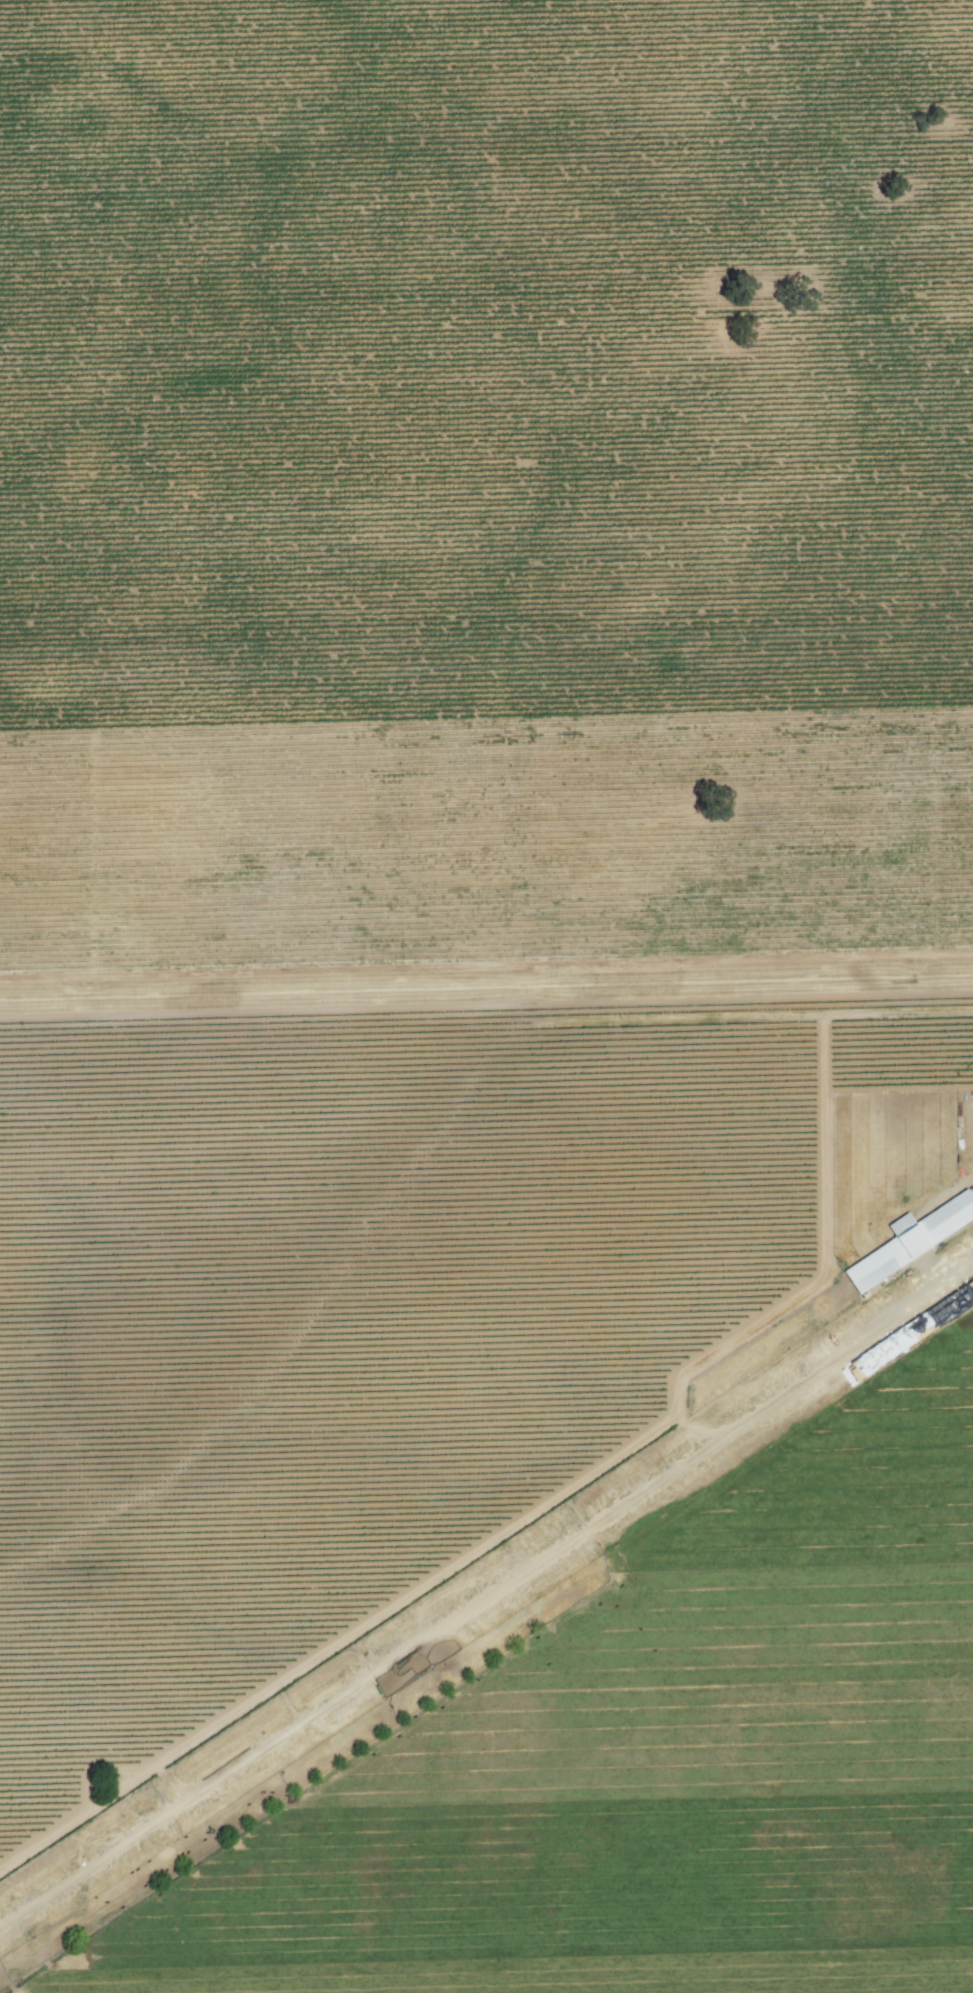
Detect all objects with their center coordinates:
building: (911, 1239)
building: (873, 1356)
road: (488, 1599)

